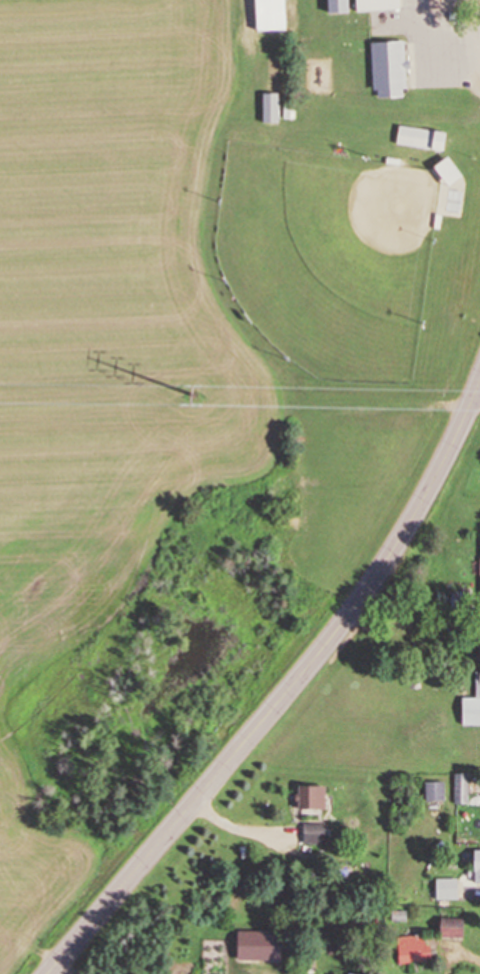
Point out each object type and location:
building: (374, 5)
building: (334, 6)
building: (387, 70)
building: (268, 108)
building: (418, 137)
building: (445, 170)
building: (453, 199)
park: (357, 210)
power tower: (191, 393)
building: (479, 569)
building: (478, 635)
road: (285, 694)
building: (471, 705)
building: (459, 788)
building: (433, 790)
building: (309, 797)
building: (312, 833)
building: (475, 865)
building: (444, 888)
building: (449, 927)
building: (255, 946)
building: (410, 949)

